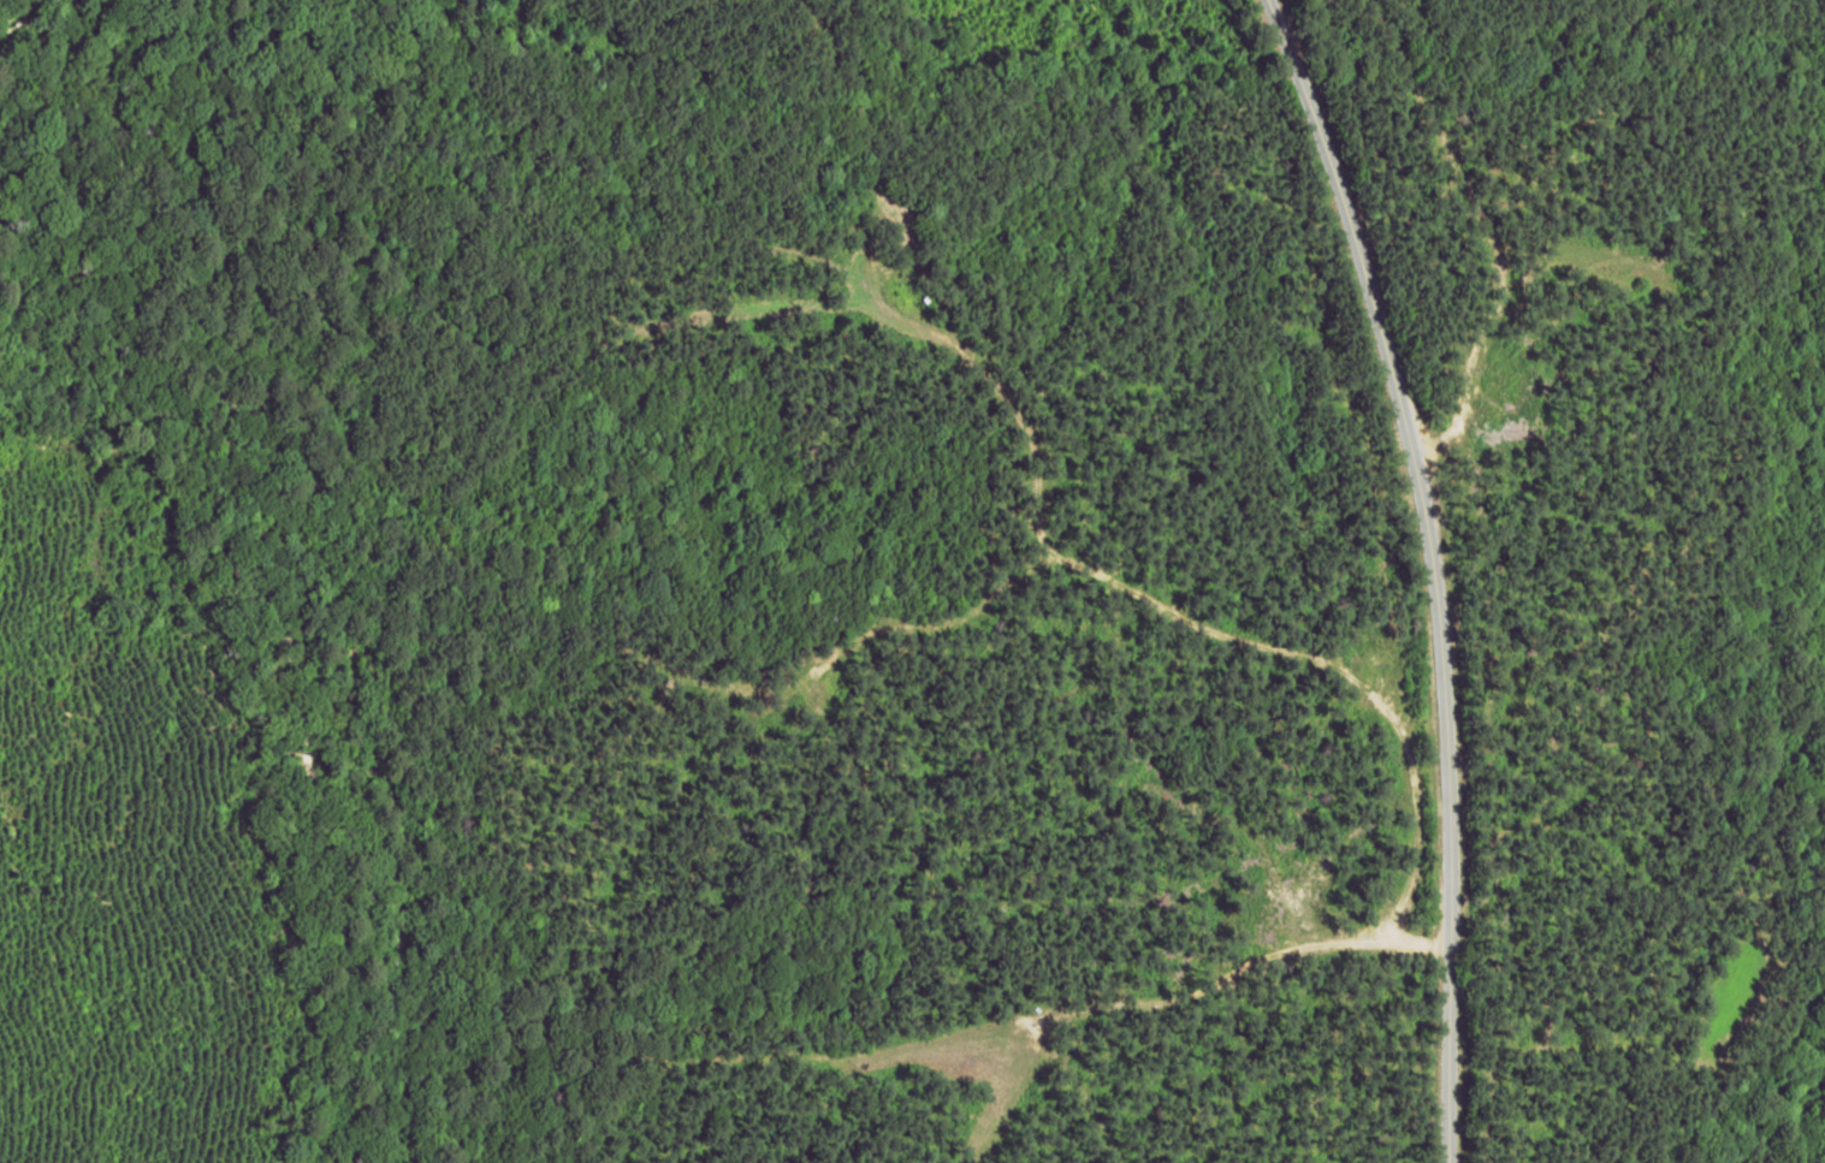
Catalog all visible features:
road: (1383, 569)

